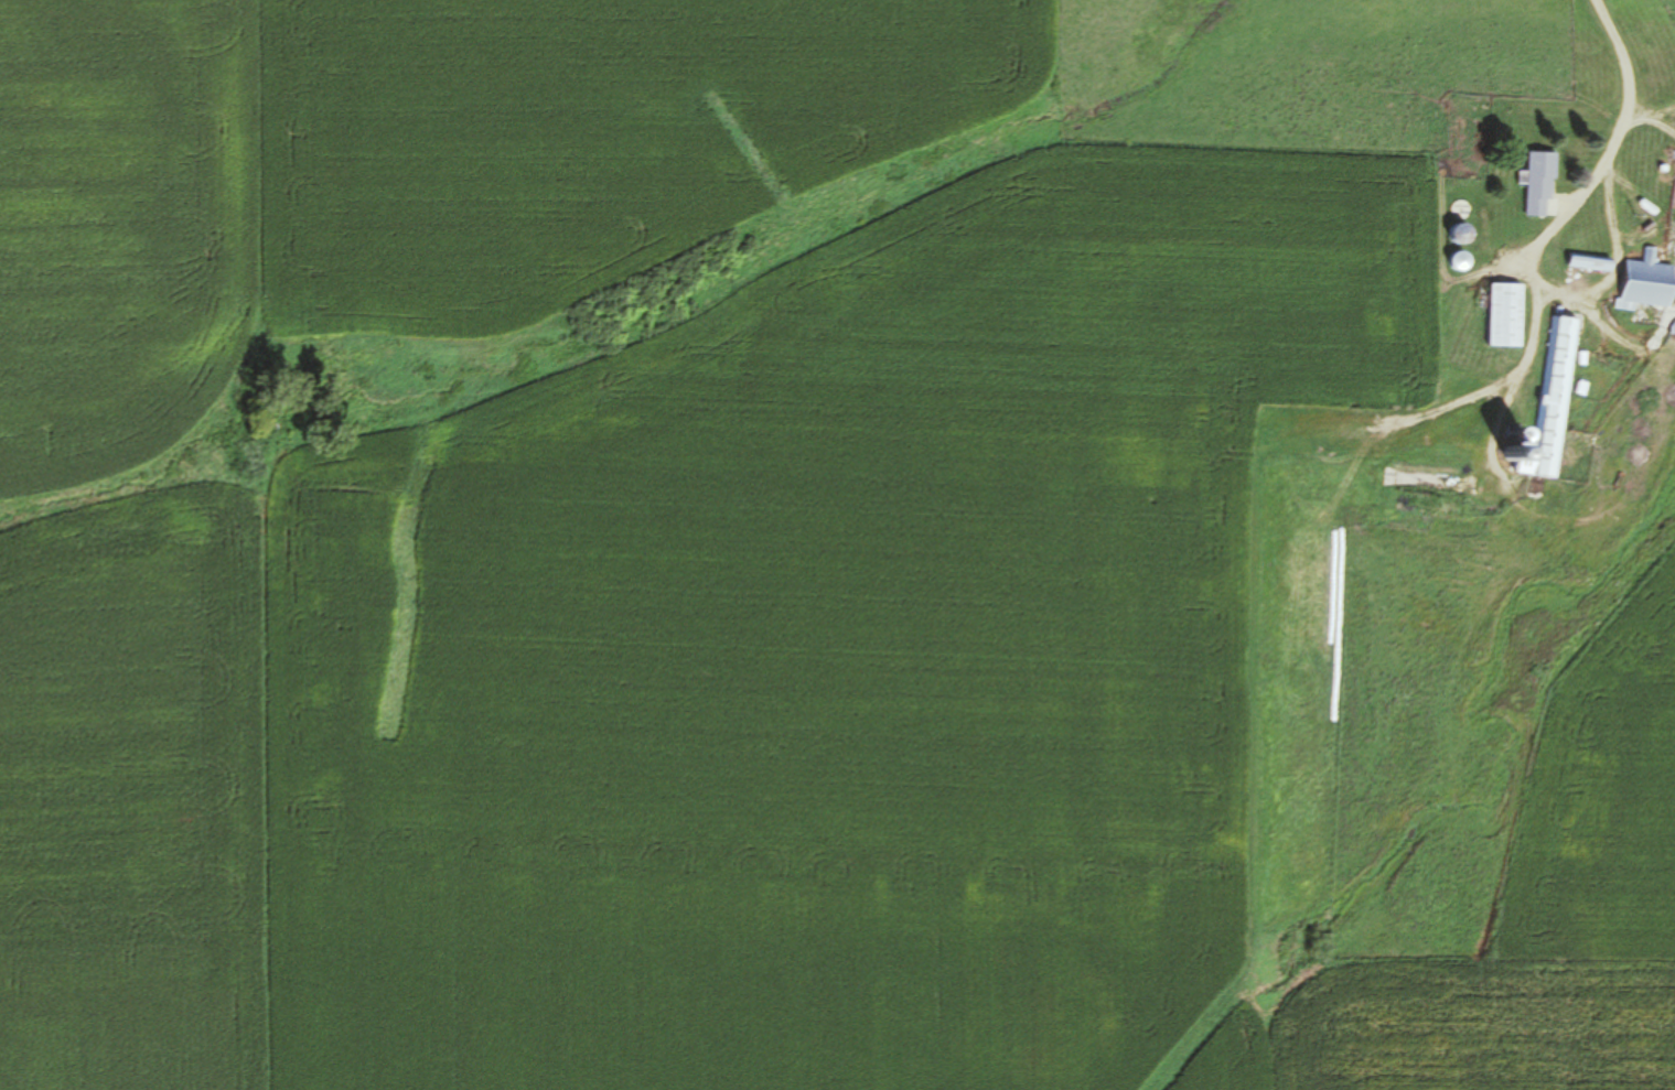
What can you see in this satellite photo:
building: (1539, 183)
building: (1647, 283)
building: (1505, 314)
building: (1549, 404)

